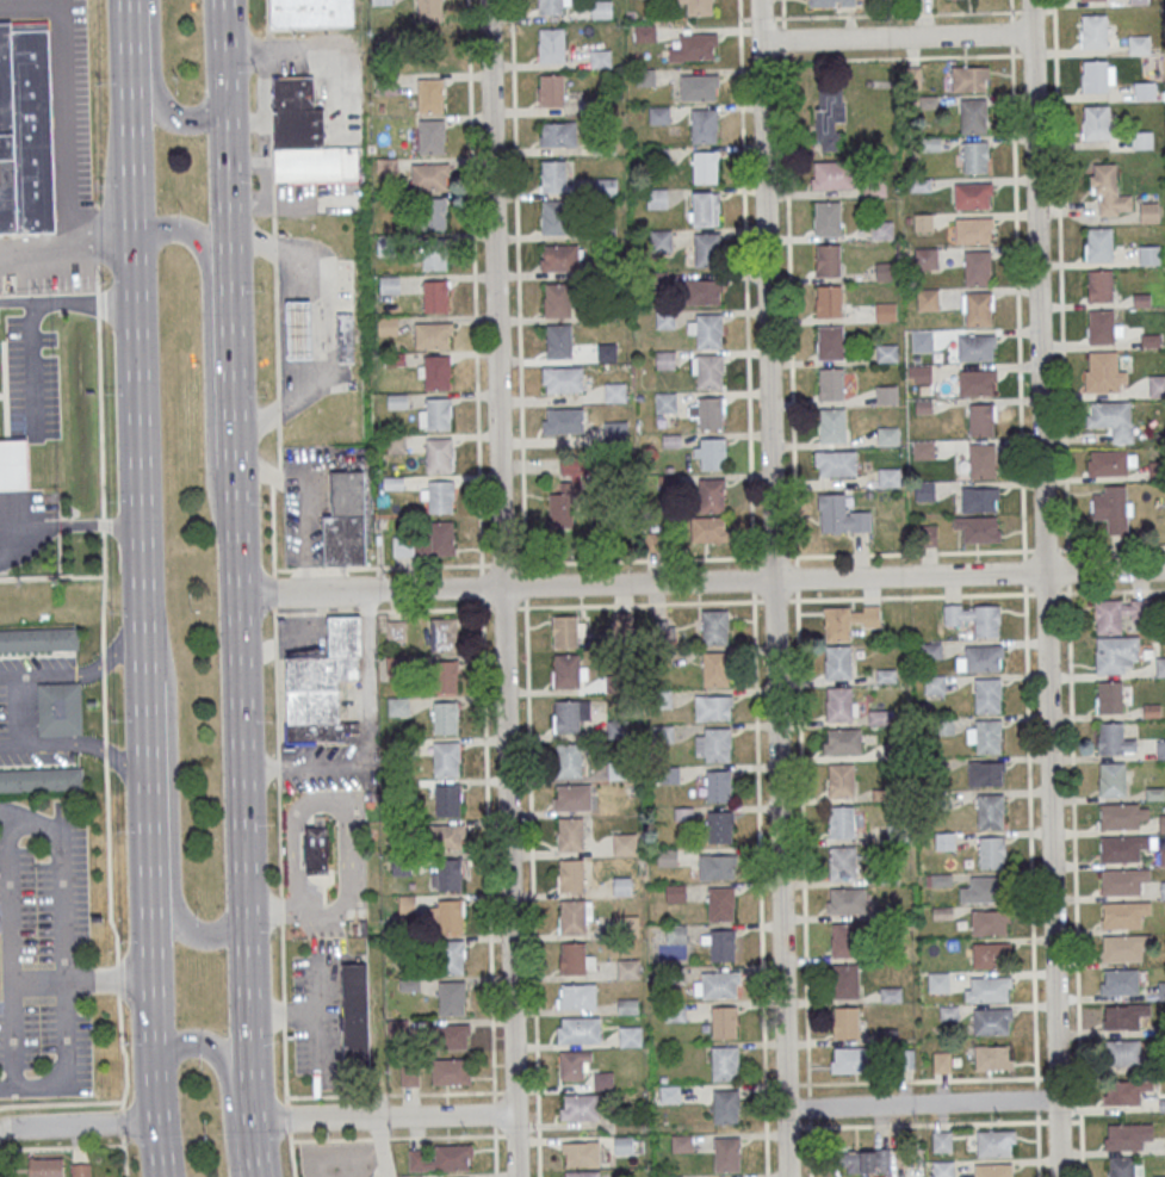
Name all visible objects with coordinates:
building: (1089, 0)
building: (382, 1)
building: (1139, 1)
building: (830, 2)
road: (8, 5)
building: (699, 6)
road: (30, 7)
building: (550, 7)
building: (601, 10)
building: (429, 11)
building: (311, 13)
road: (267, 19)
road: (223, 27)
road: (129, 31)
building: (1093, 31)
road: (894, 37)
building: (551, 44)
building: (1138, 44)
building: (694, 48)
road: (322, 54)
road: (269, 56)
building: (601, 58)
building: (1093, 76)
road: (224, 78)
building: (969, 79)
building: (699, 87)
building: (551, 89)
building: (1145, 91)
building: (429, 94)
building: (973, 114)
road: (167, 117)
building: (830, 118)
parking lot: (75, 119)
building: (1096, 122)
building: (702, 125)
road: (67, 131)
building: (557, 134)
building: (25, 135)
building: (430, 136)
building: (1142, 140)
building: (308, 141)
road: (272, 154)
building: (974, 156)
building: (705, 166)
building: (832, 174)
building: (428, 175)
building: (553, 175)
road: (227, 186)
building: (606, 186)
building: (875, 188)
building: (1108, 191)
building: (972, 194)
building: (656, 198)
building: (705, 209)
building: (1149, 212)
building: (435, 213)
building: (553, 216)
building: (826, 217)
building: (881, 229)
building: (973, 230)
building: (661, 240)
building: (1098, 243)
building: (706, 249)
road: (274, 250)
building: (1149, 255)
building: (559, 258)
building: (925, 258)
building: (826, 261)
road: (73, 265)
building: (977, 267)
building: (885, 271)
road: (97, 277)
road: (789, 277)
parking lot: (52, 278)
road: (1017, 280)
road: (1061, 280)
road: (745, 281)
building: (1099, 286)
road: (518, 287)
building: (704, 291)
building: (435, 296)
road: (97, 298)
road: (68, 299)
building: (557, 299)
building: (927, 299)
building: (828, 302)
building: (977, 309)
building: (885, 311)
building: (1101, 326)
building: (708, 330)
road: (277, 332)
building: (433, 334)
building: (299, 335)
building: (558, 340)
building: (922, 340)
building: (345, 341)
building: (830, 342)
building: (975, 347)
building: (607, 352)
building: (887, 352)
building: (665, 360)
road: (206, 363)
road: (32, 367)
road: (233, 368)
building: (436, 371)
building: (708, 371)
building: (918, 373)
building: (1104, 373)
parking lot: (32, 378)
building: (562, 379)
building: (977, 382)
building: (830, 384)
building: (1157, 385)
building: (614, 392)
building: (886, 394)
building: (665, 402)
road: (100, 411)
road: (278, 413)
building: (709, 413)
building: (436, 414)
building: (1111, 417)
building: (980, 420)
building: (563, 421)
building: (832, 425)
building: (887, 435)
road: (279, 450)
building: (712, 453)
building: (438, 454)
building: (980, 459)
building: (1111, 461)
building: (835, 463)
building: (13, 465)
building: (1155, 470)
building: (888, 477)
road: (275, 478)
building: (712, 494)
building: (439, 496)
building: (979, 500)
building: (562, 508)
building: (1113, 508)
building: (841, 515)
building: (346, 521)
road: (103, 524)
road: (64, 526)
building: (708, 528)
building: (978, 528)
road: (272, 531)
building: (439, 538)
road: (1045, 549)
road: (1110, 549)
road: (909, 552)
road: (774, 556)
road: (141, 559)
road: (638, 559)
road: (797, 559)
road: (502, 565)
road: (417, 566)
road: (318, 569)
road: (283, 570)
road: (482, 571)
road: (1067, 572)
road: (1024, 574)
road: (797, 576)
road: (52, 577)
road: (752, 577)
road: (701, 580)
road: (526, 587)
road: (482, 588)
road: (501, 588)
road: (774, 588)
road: (1043, 588)
road: (1111, 589)
road: (1045, 590)
road: (104, 591)
road: (274, 593)
road: (909, 594)
road: (774, 599)
road: (639, 602)
road: (526, 603)
road: (504, 608)
road: (434, 609)
road: (368, 612)
road: (317, 614)
building: (1118, 614)
building: (974, 618)
building: (848, 620)
building: (714, 626)
building: (662, 628)
building: (396, 630)
building: (564, 631)
building: (442, 634)
building: (38, 639)
building: (931, 650)
road: (368, 652)
road: (130, 655)
building: (1115, 655)
building: (980, 658)
building: (837, 663)
road: (104, 665)
parking lot: (33, 667)
road: (98, 667)
building: (1160, 667)
building: (715, 669)
building: (566, 671)
road: (38, 674)
building: (445, 676)
building: (322, 683)
building: (934, 683)
building: (987, 694)
building: (1109, 698)
building: (839, 705)
building: (398, 706)
building: (713, 707)
building: (60, 708)
road: (104, 710)
building: (566, 716)
building: (445, 717)
street lamp: (271, 721)
building: (984, 736)
building: (1114, 739)
road: (371, 741)
building: (842, 742)
building: (713, 744)
building: (1160, 749)
road: (47, 751)
road: (105, 751)
road: (107, 752)
road: (277, 754)
building: (446, 758)
building: (569, 760)
parking lot: (24, 761)
road: (134, 762)
road: (241, 767)
road: (306, 767)
building: (986, 773)
road: (172, 780)
building: (1111, 780)
building: (41, 781)
building: (841, 781)
building: (719, 785)
building: (571, 798)
building: (447, 800)
road: (321, 803)
building: (990, 811)
building: (1123, 814)
road: (30, 816)
building: (842, 822)
building: (1161, 823)
building: (719, 826)
building: (570, 834)
building: (447, 837)
building: (625, 844)
building: (316, 845)
building: (1122, 848)
road: (487, 849)
road: (348, 851)
building: (991, 853)
road: (296, 854)
building: (1163, 856)
road: (107, 861)
building: (842, 862)
building: (715, 867)
building: (448, 874)
building: (571, 874)
building: (1122, 880)
road: (1030, 881)
road: (1074, 881)
road: (760, 882)
road: (803, 882)
building: (621, 886)
building: (981, 890)
building: (1163, 890)
road: (532, 892)
building: (675, 893)
building: (845, 900)
building: (720, 904)
road: (296, 905)
parking lot: (50, 906)
road: (281, 910)
building: (1123, 913)
building: (574, 915)
building: (447, 916)
building: (990, 922)
building: (627, 924)
building: (845, 941)
building: (721, 944)
building: (1124, 947)
road: (64, 950)
road: (8, 952)
building: (991, 954)
building: (453, 956)
building: (574, 958)
road: (283, 961)
building: (628, 968)
road: (117, 977)
road: (81, 979)
building: (845, 981)
building: (937, 981)
building: (1120, 981)
building: (715, 985)
building: (987, 989)
building: (576, 996)
building: (451, 998)
road: (284, 1012)
road: (284, 1014)
building: (355, 1014)
road: (318, 1015)
building: (1122, 1016)
parking lot: (327, 1021)
building: (724, 1021)
building: (992, 1021)
building: (845, 1022)
building: (578, 1029)
building: (450, 1036)
building: (630, 1036)
parking lot: (50, 1039)
road: (123, 1051)
building: (1122, 1053)
building: (992, 1057)
building: (848, 1060)
building: (941, 1061)
building: (725, 1063)
building: (572, 1064)
road: (285, 1065)
building: (451, 1072)
road: (224, 1079)
building: (602, 1080)
road: (922, 1080)
road: (32, 1086)
road: (508, 1090)
road: (155, 1091)
building: (1126, 1091)
road: (394, 1092)
building: (669, 1094)
road: (253, 1095)
road: (61, 1103)
road: (921, 1104)
building: (580, 1107)
building: (725, 1107)
road: (494, 1111)
road: (383, 1114)
road: (286, 1117)
road: (120, 1122)
road: (923, 1123)
road: (79, 1126)
road: (509, 1133)
road: (446, 1134)
building: (1127, 1135)
road: (379, 1136)
road: (330, 1139)
building: (941, 1141)
building: (681, 1142)
building: (996, 1142)
building: (622, 1144)
road: (49, 1146)
road: (380, 1146)
road: (256, 1148)
road: (495, 1150)
road: (160, 1151)
building: (580, 1153)
building: (726, 1153)
road: (291, 1154)
road: (124, 1156)
building: (441, 1157)
building: (865, 1160)
building: (47, 1166)
building: (1121, 1166)
building: (943, 1169)
building: (80, 1170)
building: (992, 1170)
building: (582, 1173)
building: (411, 1176)

